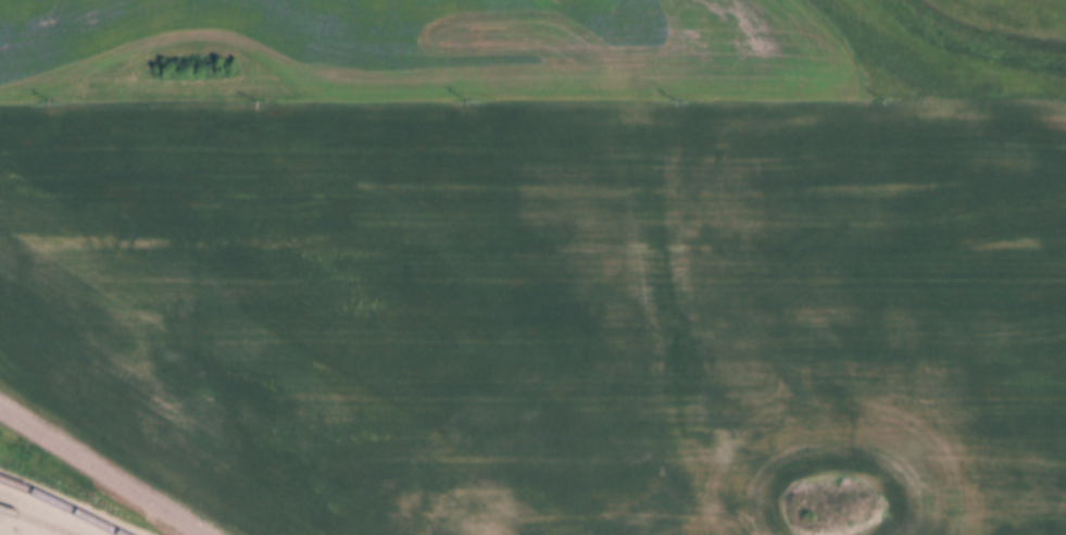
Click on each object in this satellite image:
railway: (96, 475)

